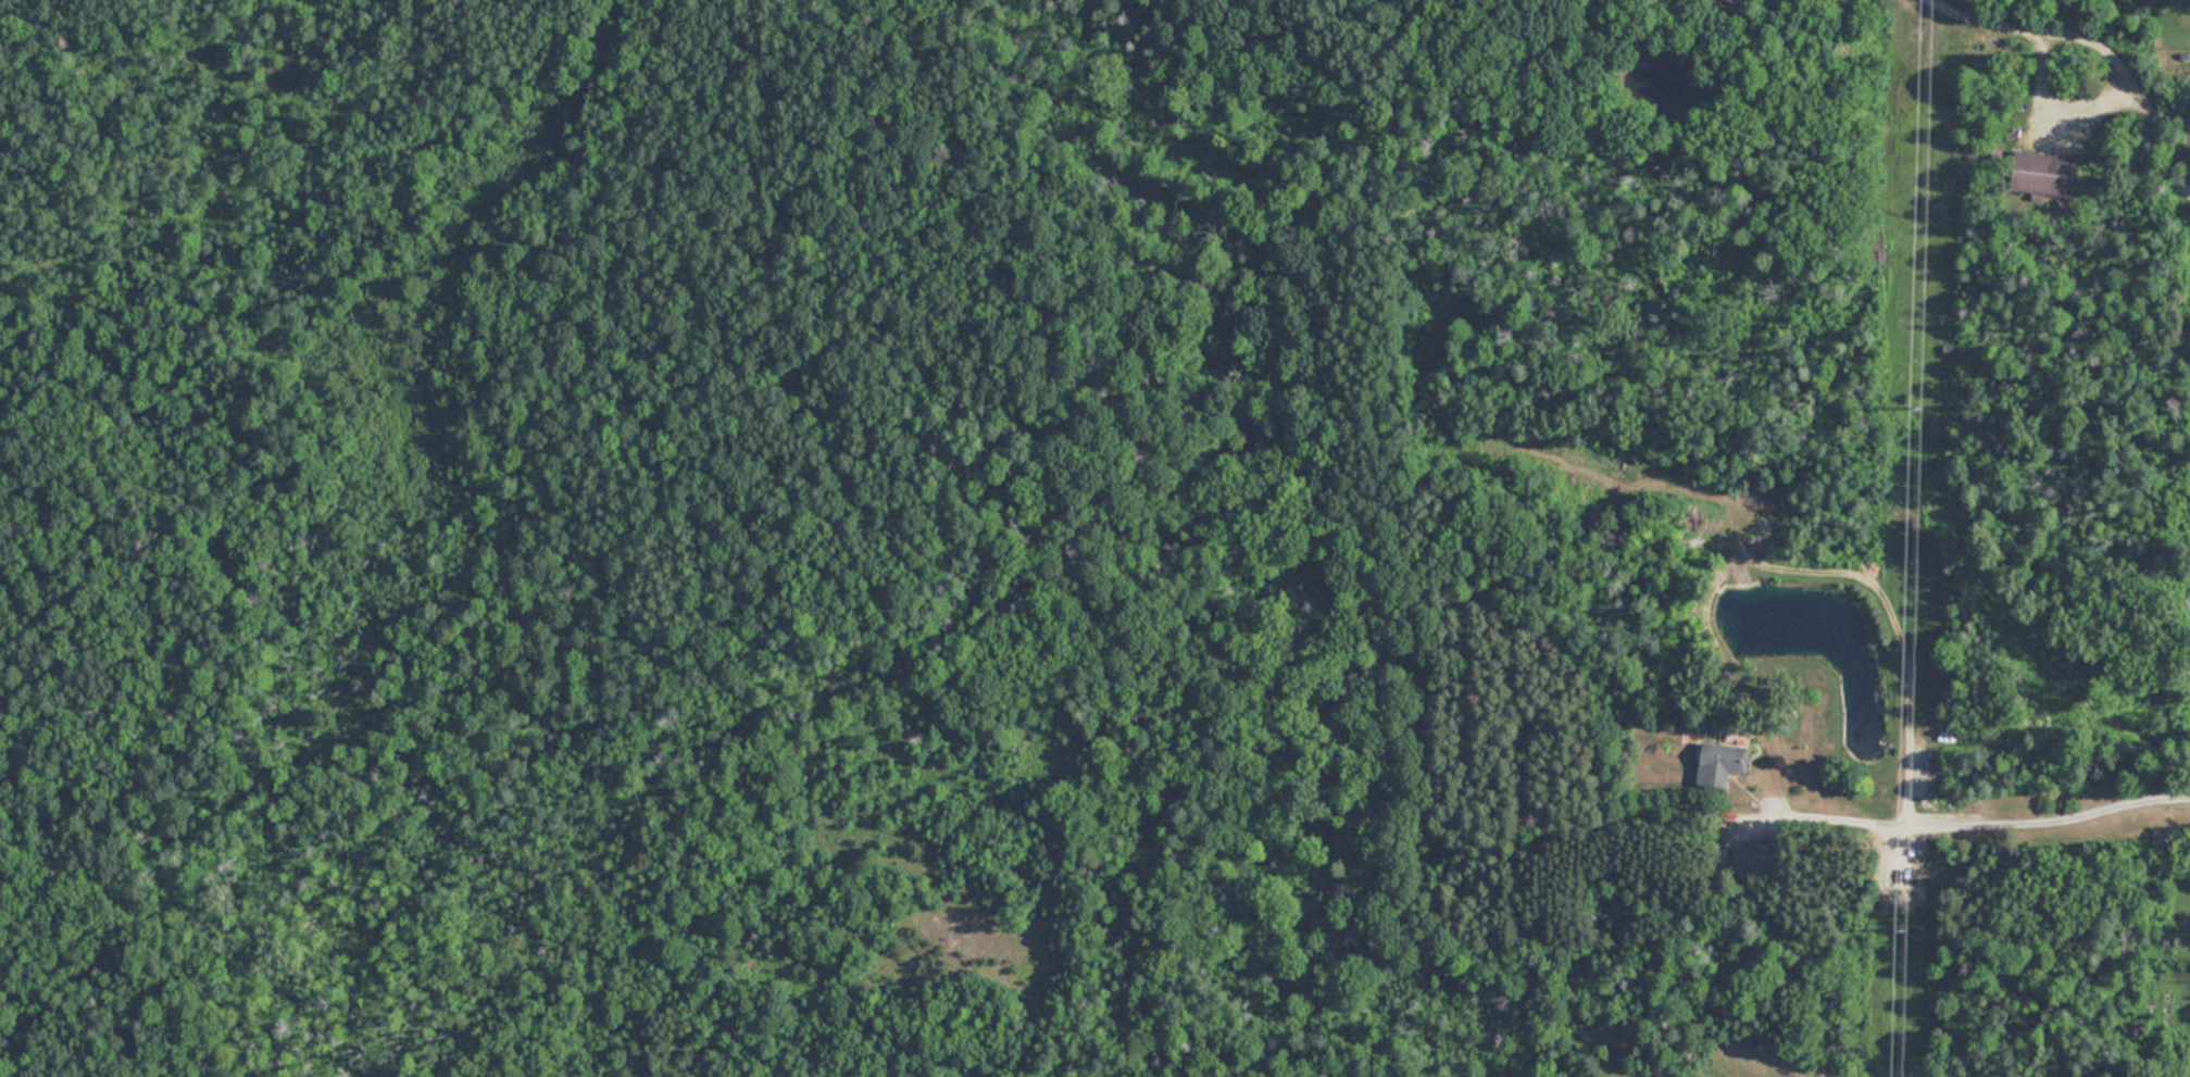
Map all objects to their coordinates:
road: (1713, 14)
road: (2111, 39)
building: (2047, 173)
power tower: (1918, 410)
park: (673, 540)
building: (1723, 763)
road: (1978, 810)
power tower: (1904, 931)

